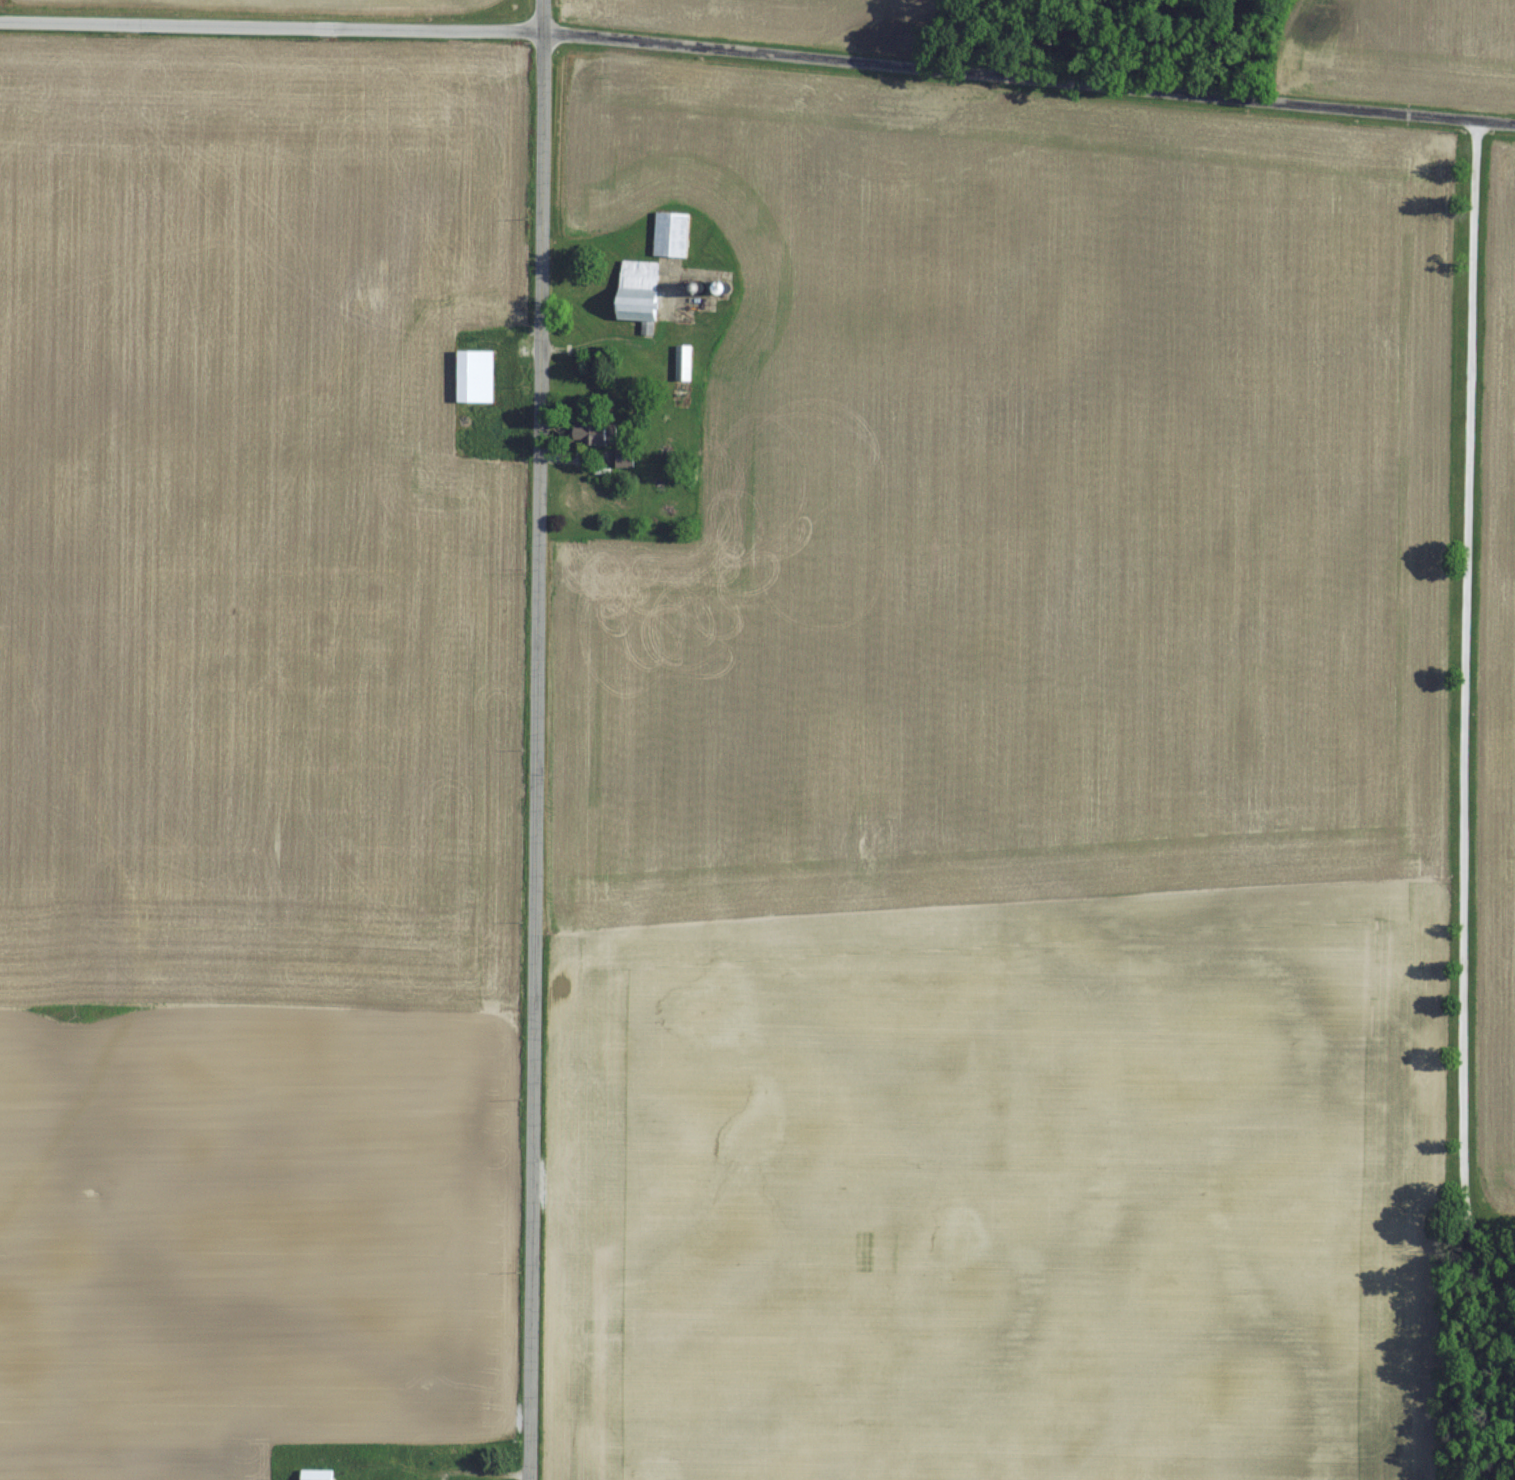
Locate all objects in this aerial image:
road: (758, 55)
building: (631, 291)
building: (470, 374)
road: (1465, 704)
road: (530, 739)
road: (481, 1473)
building: (319, 1474)

